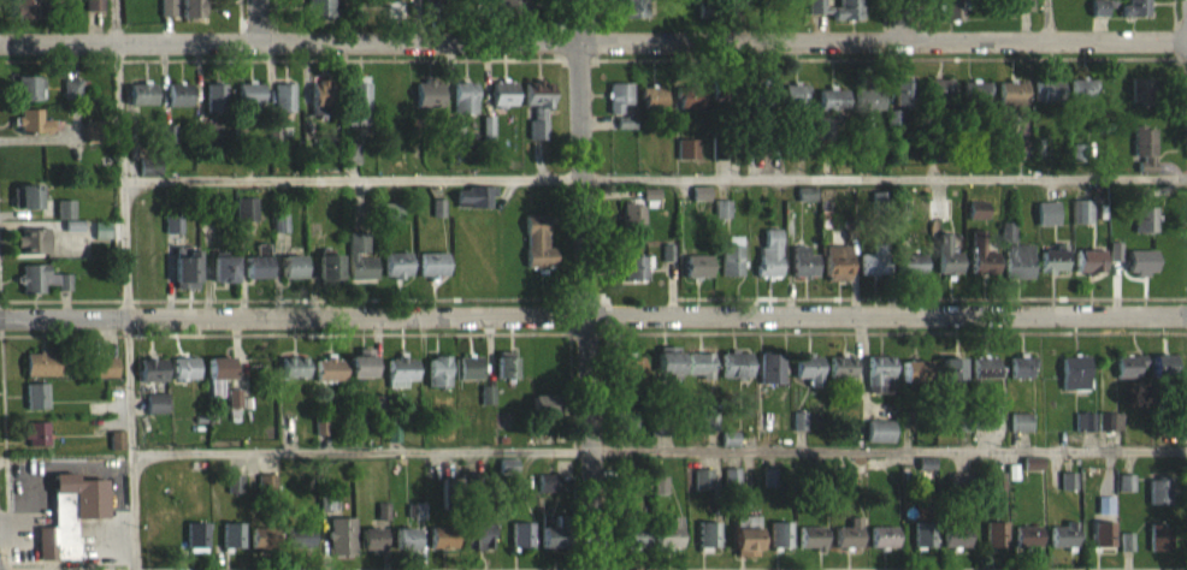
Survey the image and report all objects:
building: (129, 0)
building: (1097, 5)
building: (189, 6)
building: (1134, 6)
building: (317, 7)
building: (849, 7)
building: (950, 7)
building: (93, 12)
building: (1023, 12)
building: (510, 14)
building: (630, 14)
building: (22, 16)
building: (166, 17)
building: (431, 18)
building: (1097, 18)
building: (395, 19)
road: (415, 19)
road: (737, 19)
road: (899, 19)
road: (1045, 19)
road: (256, 20)
road: (593, 40)
building: (24, 99)
building: (1082, 99)
building: (73, 100)
building: (938, 100)
building: (1141, 100)
building: (1047, 101)
building: (502, 103)
building: (903, 103)
building: (975, 103)
building: (141, 105)
building: (178, 105)
building: (249, 105)
building: (427, 105)
building: (795, 105)
building: (1011, 106)
building: (214, 107)
building: (283, 107)
building: (619, 107)
building: (690, 107)
building: (319, 108)
building: (463, 108)
building: (652, 108)
building: (868, 108)
building: (356, 109)
building: (833, 109)
building: (537, 117)
building: (893, 129)
building: (31, 131)
building: (625, 132)
building: (486, 137)
building: (826, 138)
building: (89, 142)
building: (169, 144)
building: (687, 159)
building: (1142, 159)
building: (1009, 161)
building: (350, 162)
road: (652, 176)
building: (769, 177)
building: (147, 178)
building: (701, 203)
building: (805, 204)
building: (24, 207)
building: (474, 207)
building: (878, 210)
building: (246, 219)
building: (437, 219)
building: (722, 219)
building: (63, 220)
building: (941, 220)
building: (976, 220)
building: (391, 222)
building: (1080, 222)
building: (632, 224)
building: (1046, 224)
building: (1141, 224)
building: (172, 234)
building: (72, 236)
building: (98, 241)
building: (1006, 242)
building: (769, 250)
building: (31, 251)
building: (731, 253)
building: (537, 254)
building: (984, 256)
building: (1052, 256)
building: (1089, 256)
building: (1140, 256)
building: (1018, 257)
building: (803, 259)
building: (432, 260)
building: (873, 260)
building: (909, 260)
building: (329, 261)
building: (396, 261)
building: (1114, 261)
building: (291, 262)
building: (697, 262)
building: (255, 263)
building: (361, 265)
building: (1052, 271)
building: (874, 272)
building: (1088, 272)
building: (1140, 272)
building: (803, 273)
building: (837, 273)
building: (949, 273)
building: (910, 274)
building: (396, 275)
building: (431, 275)
building: (291, 277)
building: (697, 277)
building: (327, 278)
building: (636, 278)
building: (184, 279)
building: (223, 279)
road: (124, 285)
road: (583, 285)
building: (40, 289)
road: (592, 313)
building: (668, 360)
building: (698, 360)
building: (736, 361)
building: (361, 362)
building: (840, 362)
building: (879, 362)
building: (293, 363)
building: (951, 363)
building: (985, 363)
building: (1021, 363)
building: (1128, 363)
building: (626, 364)
building: (770, 364)
building: (401, 366)
building: (809, 366)
building: (329, 367)
building: (914, 367)
building: (1074, 369)
building: (41, 374)
building: (360, 374)
building: (698, 374)
building: (734, 374)
building: (504, 375)
building: (1161, 375)
building: (841, 376)
building: (1127, 376)
building: (105, 378)
building: (184, 378)
building: (293, 378)
building: (468, 378)
building: (631, 378)
building: (984, 378)
building: (1021, 378)
building: (327, 379)
building: (809, 379)
building: (951, 379)
building: (152, 380)
building: (437, 381)
building: (914, 381)
building: (400, 382)
building: (217, 384)
building: (879, 385)
building: (486, 405)
building: (35, 406)
building: (232, 408)
building: (154, 414)
building: (542, 414)
building: (625, 431)
building: (799, 431)
building: (985, 431)
building: (1083, 432)
building: (1109, 432)
building: (1020, 433)
building: (287, 435)
building: (656, 435)
building: (319, 437)
building: (880, 441)
building: (35, 444)
building: (116, 450)
road: (660, 462)
building: (1032, 474)
building: (926, 476)
building: (768, 487)
building: (732, 488)
building: (702, 489)
building: (959, 491)
building: (1067, 491)
building: (265, 492)
building: (845, 492)
building: (998, 492)
building: (545, 493)
building: (1123, 493)
building: (234, 494)
building: (659, 495)
building: (1157, 501)
building: (325, 512)
building: (1103, 516)
building: (69, 526)
building: (632, 542)
building: (231, 545)
building: (520, 545)
building: (667, 545)
building: (780, 545)
building: (848, 545)
building: (923, 545)
building: (994, 545)
building: (1102, 545)
building: (195, 546)
building: (339, 546)
building: (477, 546)
building: (550, 546)
building: (708, 546)
building: (745, 546)
building: (955, 546)
building: (1026, 546)
building: (1062, 546)
building: (882, 547)
building: (261, 548)
building: (297, 548)
building: (403, 548)
building: (441, 548)
building: (811, 548)
building: (1158, 548)
building: (370, 551)
building: (1124, 552)
road: (897, 566)

